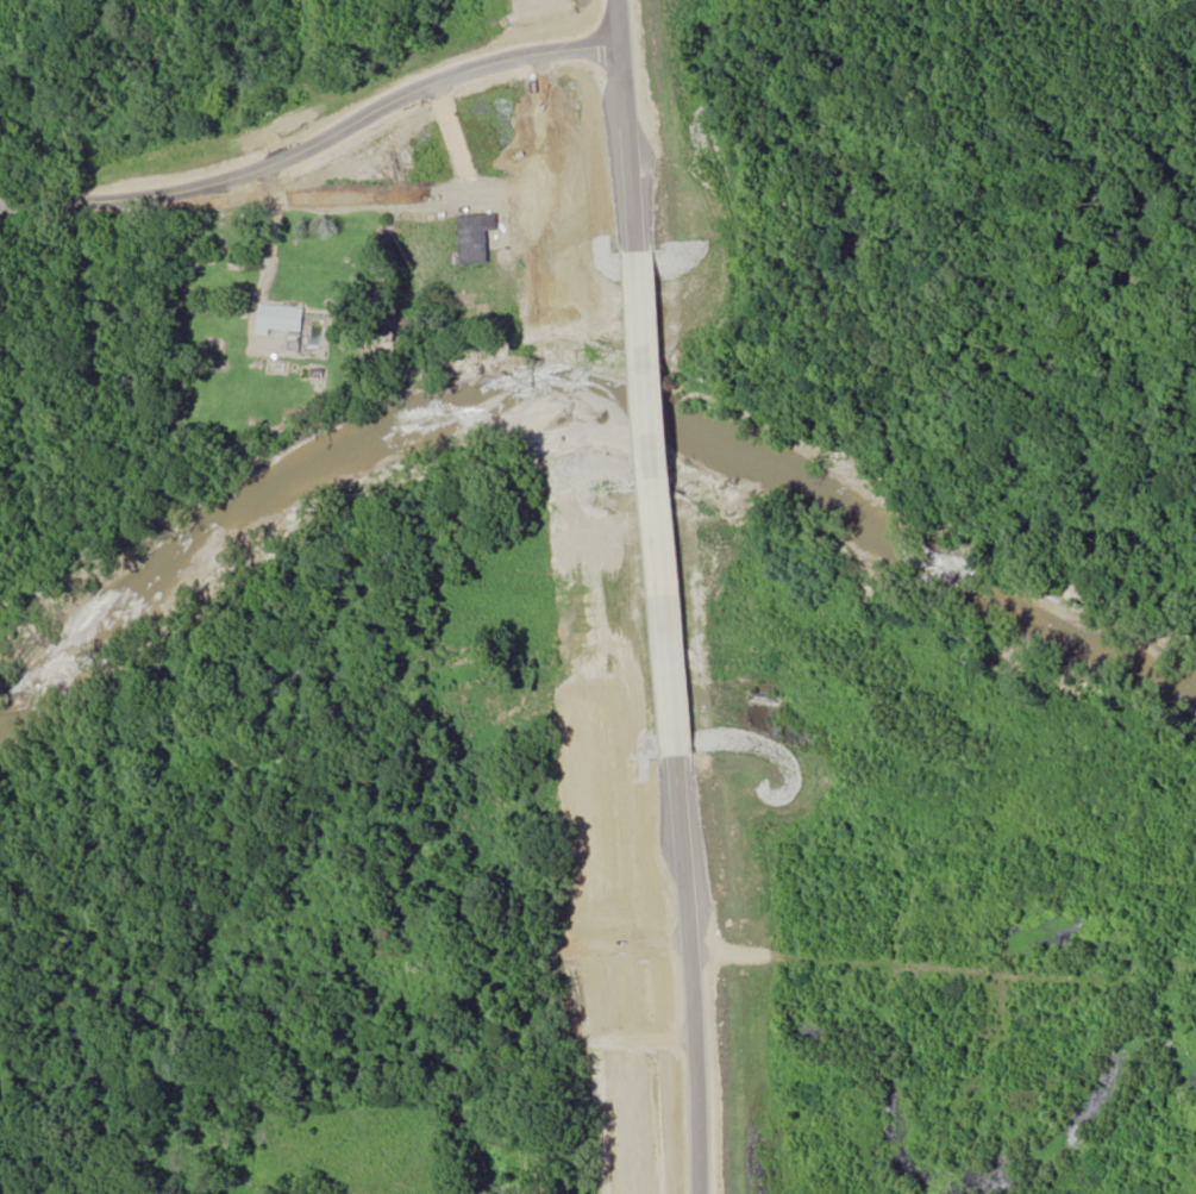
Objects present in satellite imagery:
road: (414, 115)
building: (263, 121)
road: (939, 225)
road: (283, 238)
building: (477, 238)
building: (281, 318)
road: (593, 596)
road: (928, 979)

